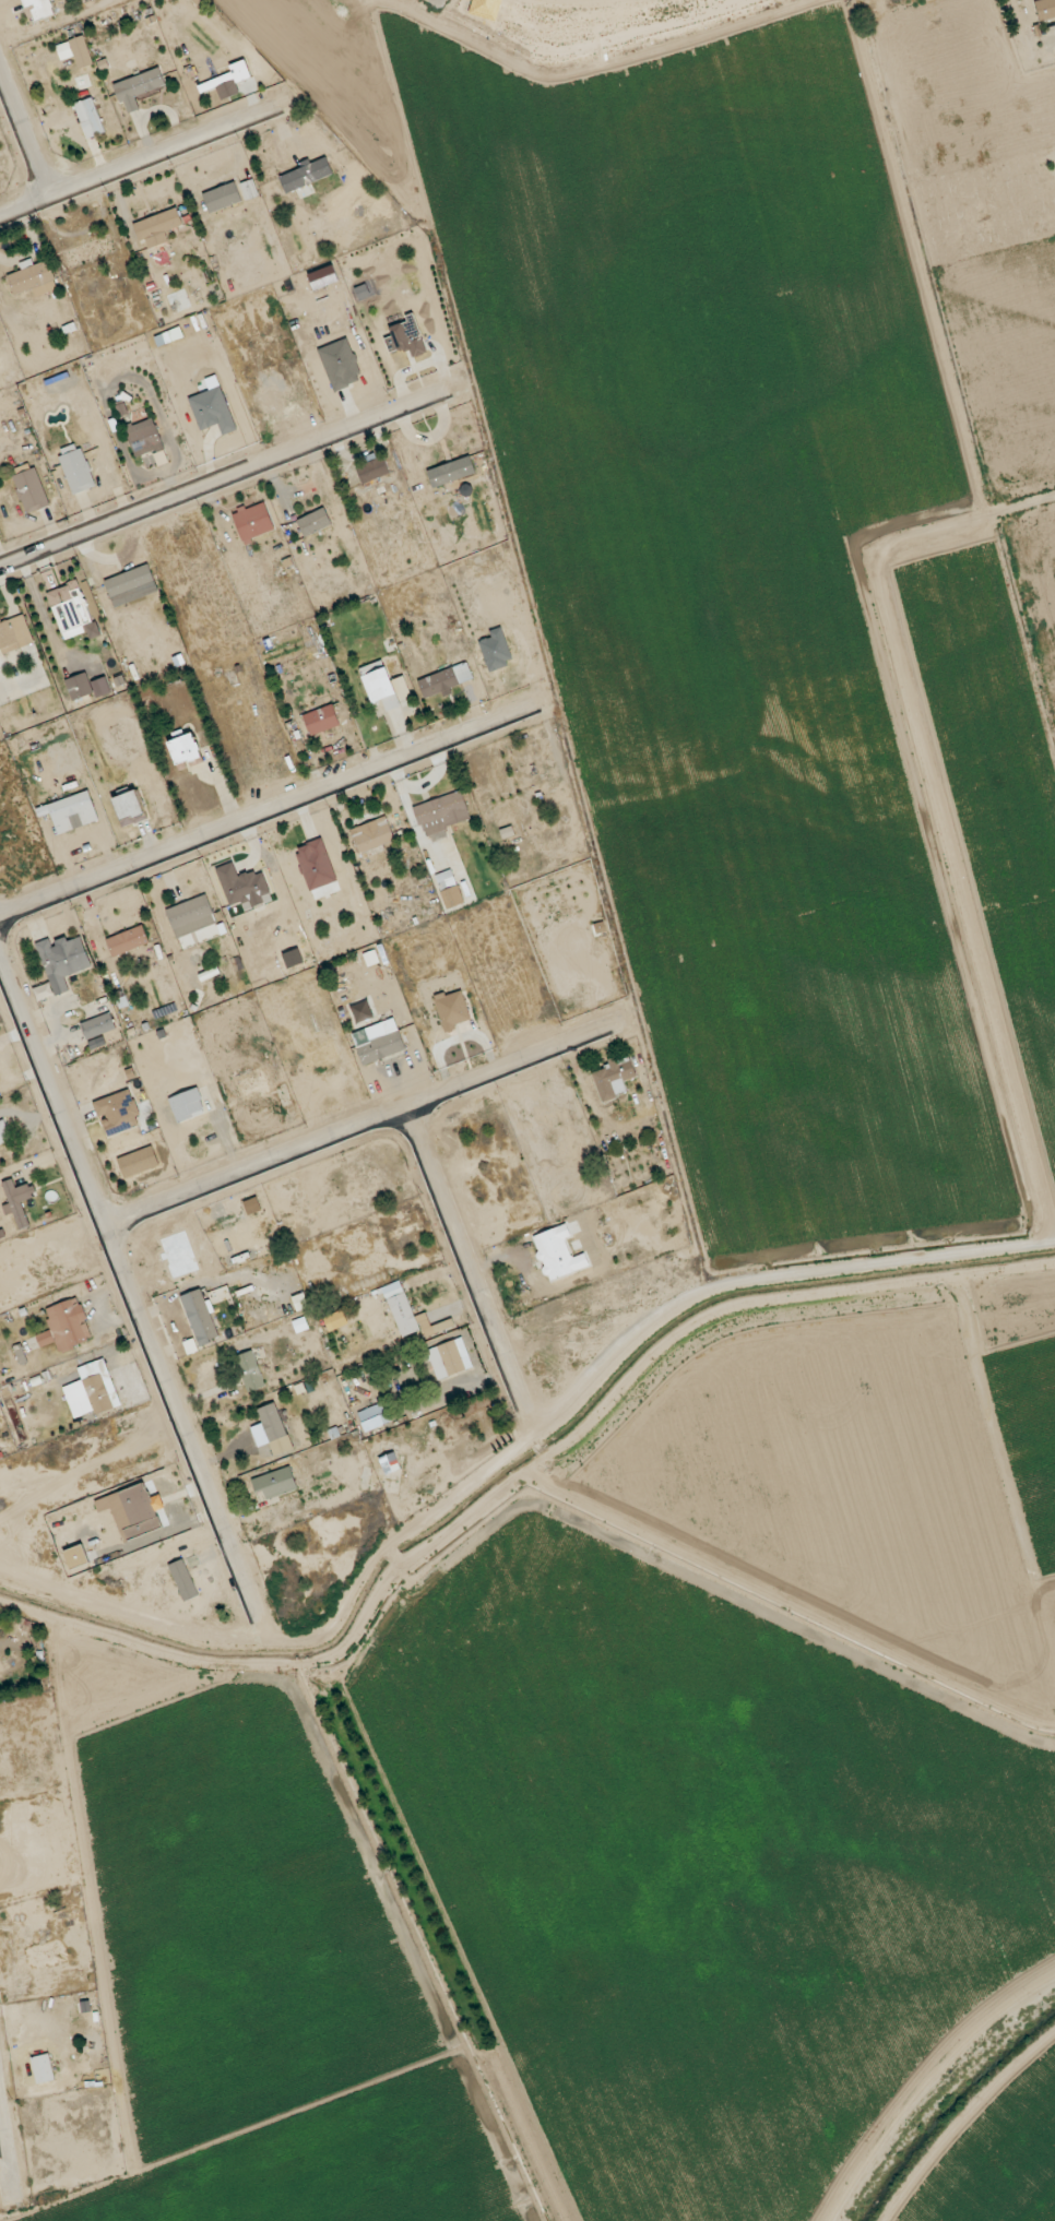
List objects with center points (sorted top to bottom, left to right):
building: (39, 8)
building: (1045, 9)
building: (75, 51)
building: (138, 87)
building: (90, 117)
road: (25, 132)
road: (141, 162)
building: (306, 177)
building: (249, 190)
building: (222, 198)
building: (157, 227)
building: (88, 251)
building: (33, 278)
building: (406, 337)
building: (147, 443)
building: (75, 468)
building: (372, 470)
building: (451, 472)
road: (225, 478)
building: (29, 488)
building: (253, 521)
building: (315, 522)
building: (129, 581)
building: (72, 611)
building: (14, 633)
building: (497, 649)
building: (446, 680)
building: (384, 686)
building: (86, 687)
building: (321, 720)
building: (185, 749)
building: (130, 808)
road: (269, 811)
building: (71, 812)
building: (442, 812)
building: (372, 834)
building: (316, 864)
building: (242, 886)
building: (449, 889)
building: (191, 916)
building: (128, 940)
building: (60, 964)
building: (452, 1010)
building: (361, 1011)
building: (98, 1025)
building: (378, 1042)
building: (613, 1079)
building: (187, 1105)
building: (118, 1113)
road: (367, 1125)
building: (4, 1132)
building: (17, 1201)
building: (558, 1254)
road: (470, 1269)
road: (133, 1295)
building: (295, 1305)
building: (410, 1314)
building: (200, 1316)
building: (66, 1326)
building: (449, 1358)
building: (250, 1370)
building: (92, 1390)
building: (375, 1416)
building: (269, 1425)
road: (510, 1446)
building: (390, 1463)
building: (275, 1483)
building: (133, 1510)
building: (75, 1556)
building: (183, 1580)
building: (43, 2068)
road: (929, 2087)
road: (8, 2154)

